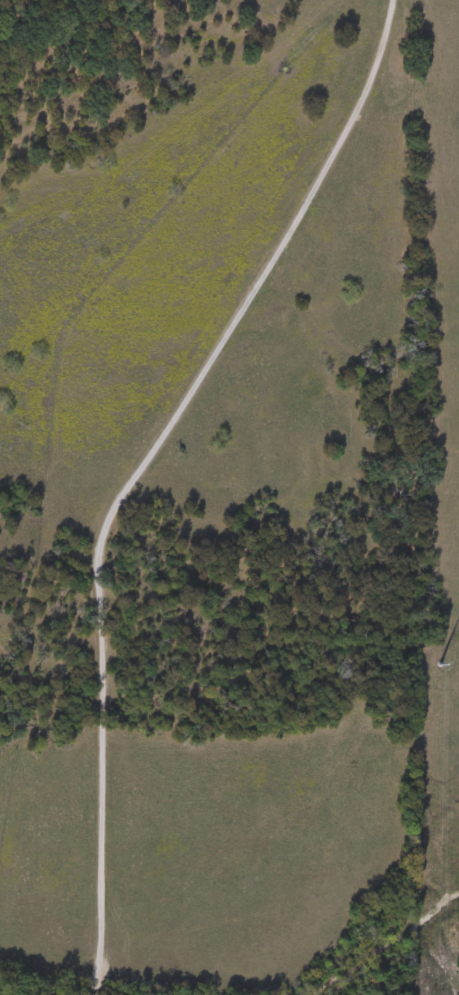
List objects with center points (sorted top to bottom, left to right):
road: (132, 469)
power tower: (432, 650)

